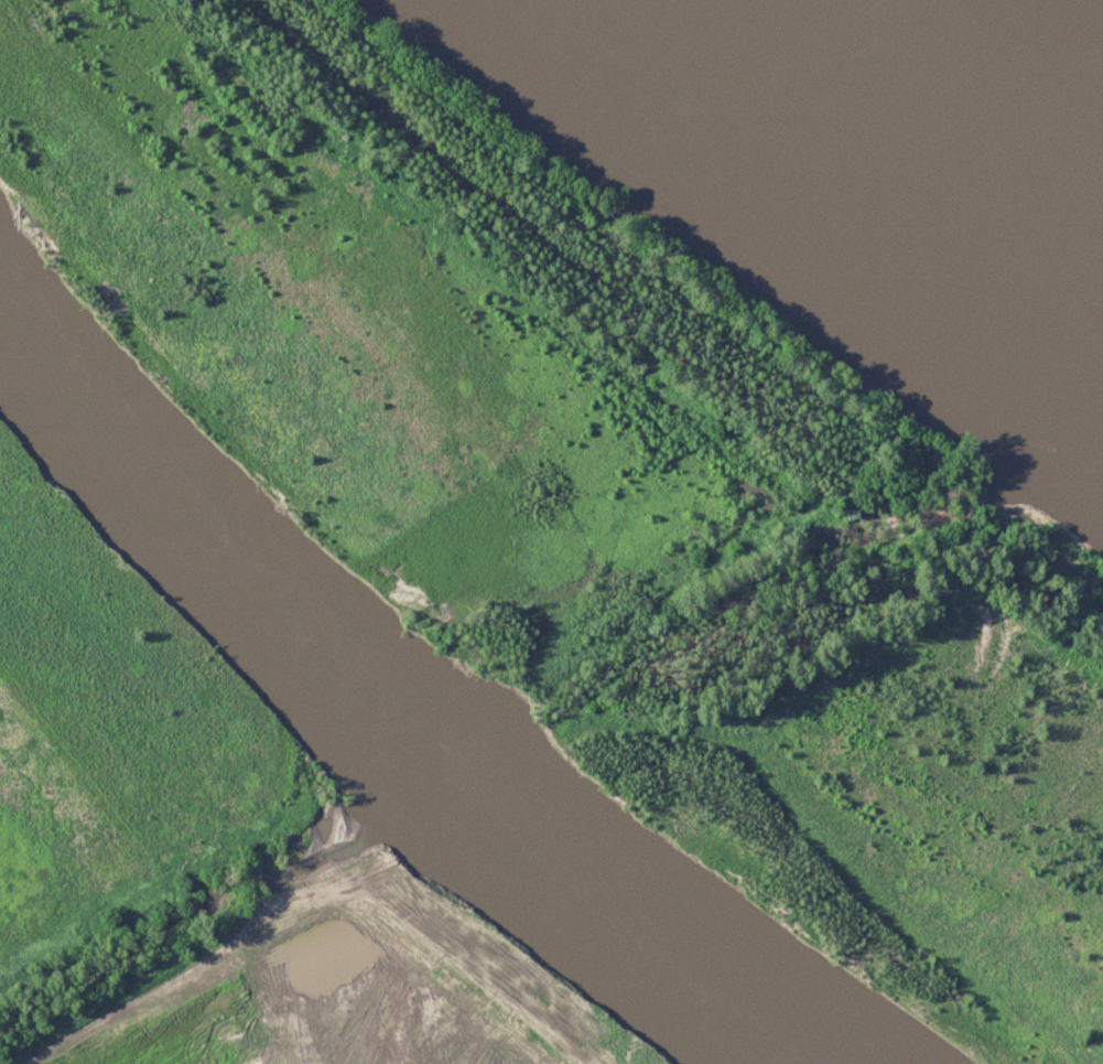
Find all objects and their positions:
river: (942, 101)

